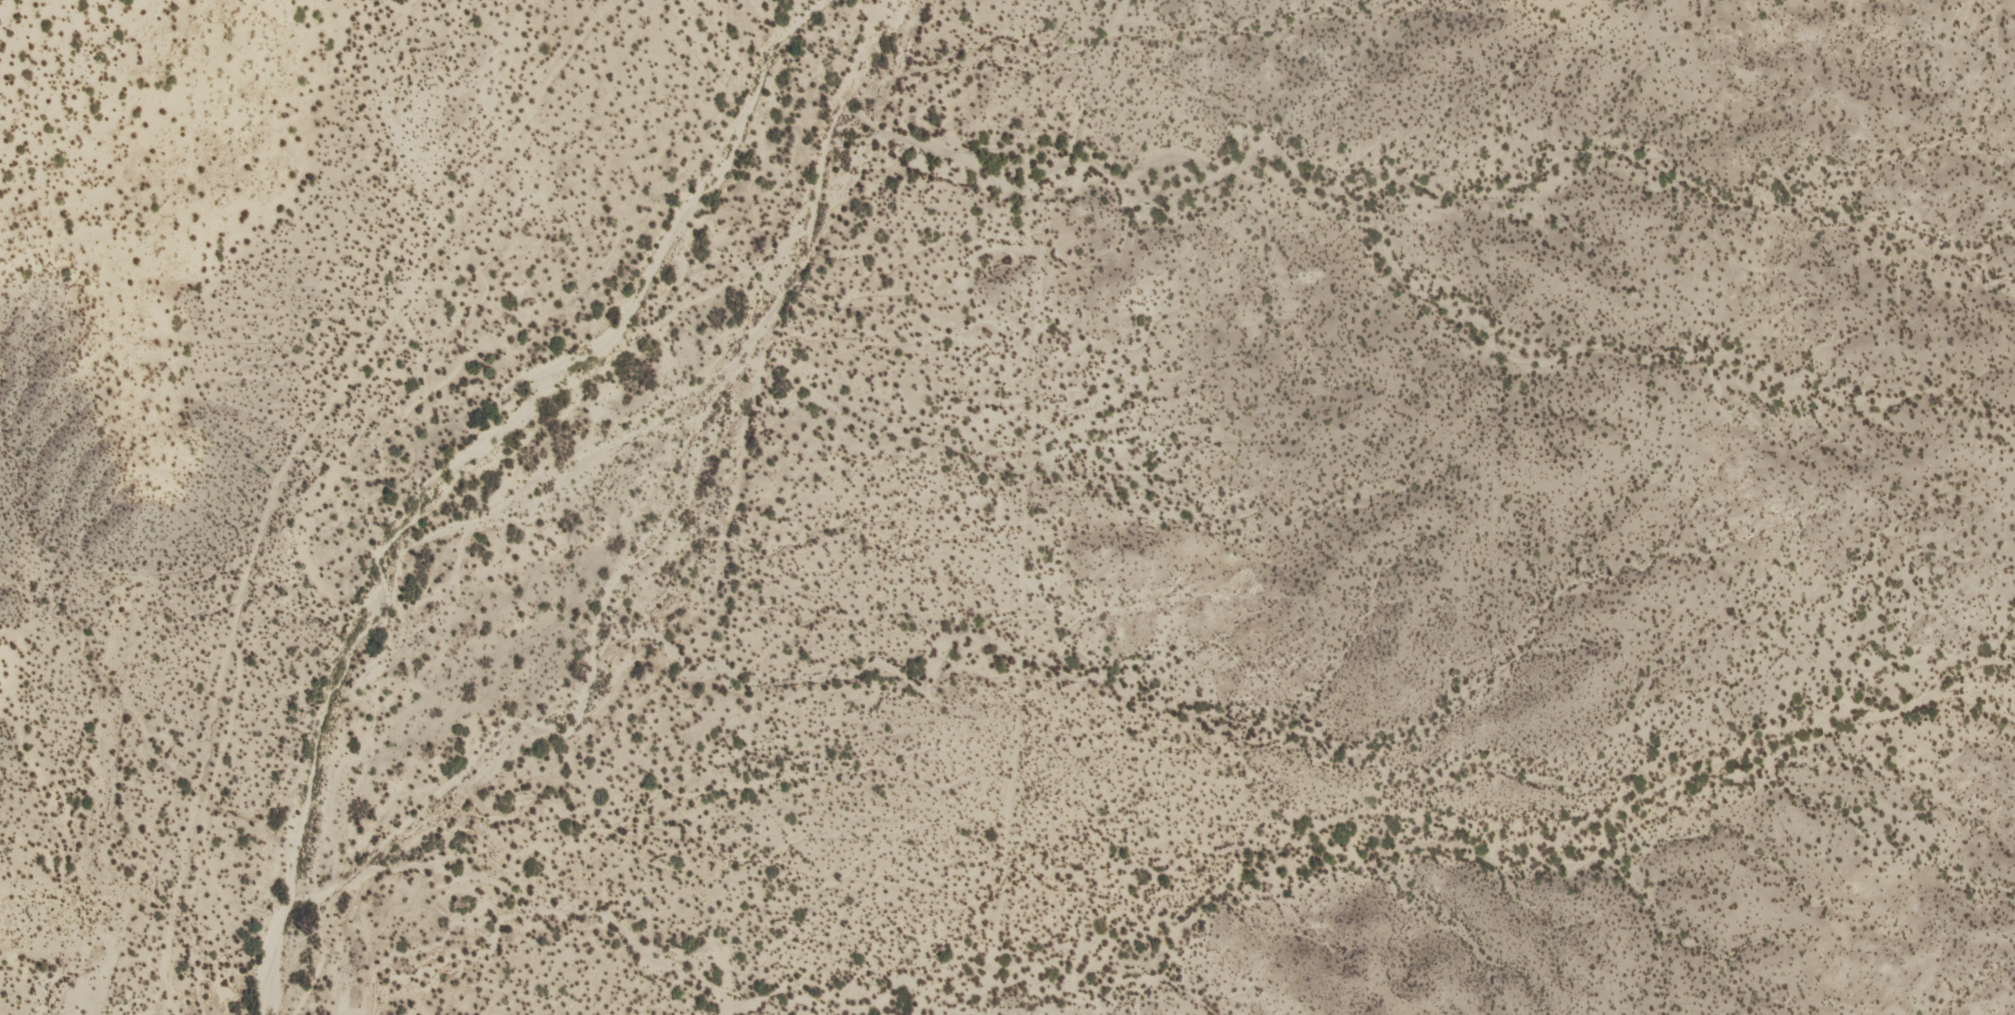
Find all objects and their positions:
road: (1018, 477)
road: (347, 482)

